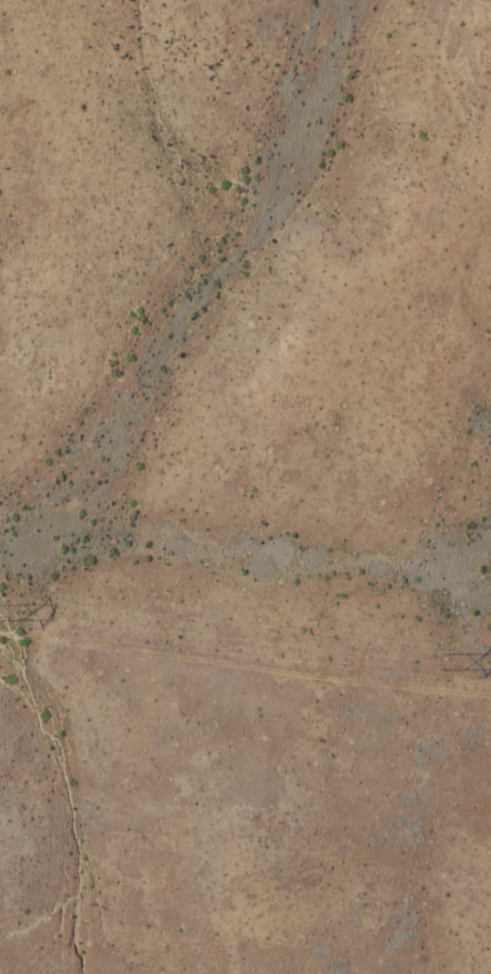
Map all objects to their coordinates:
power tower: (2, 609)
power tower: (442, 658)

